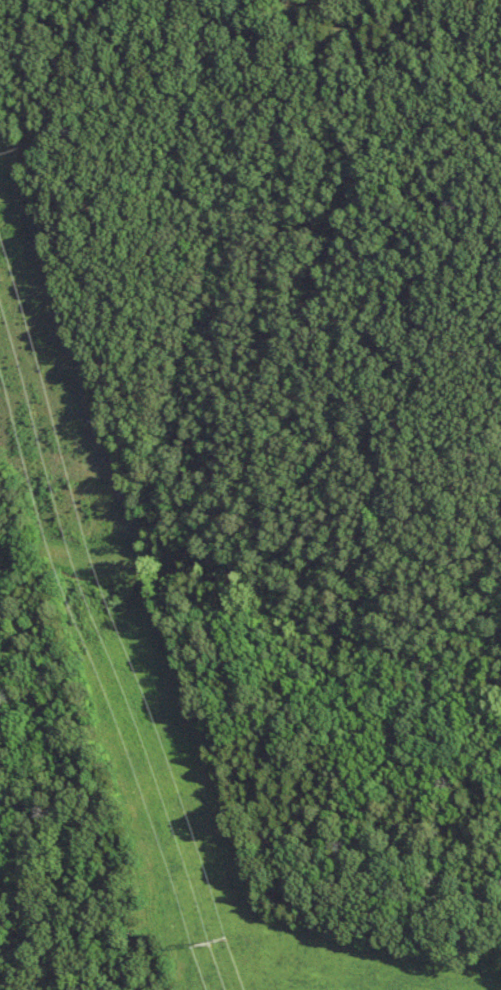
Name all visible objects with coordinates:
power tower: (213, 944)

